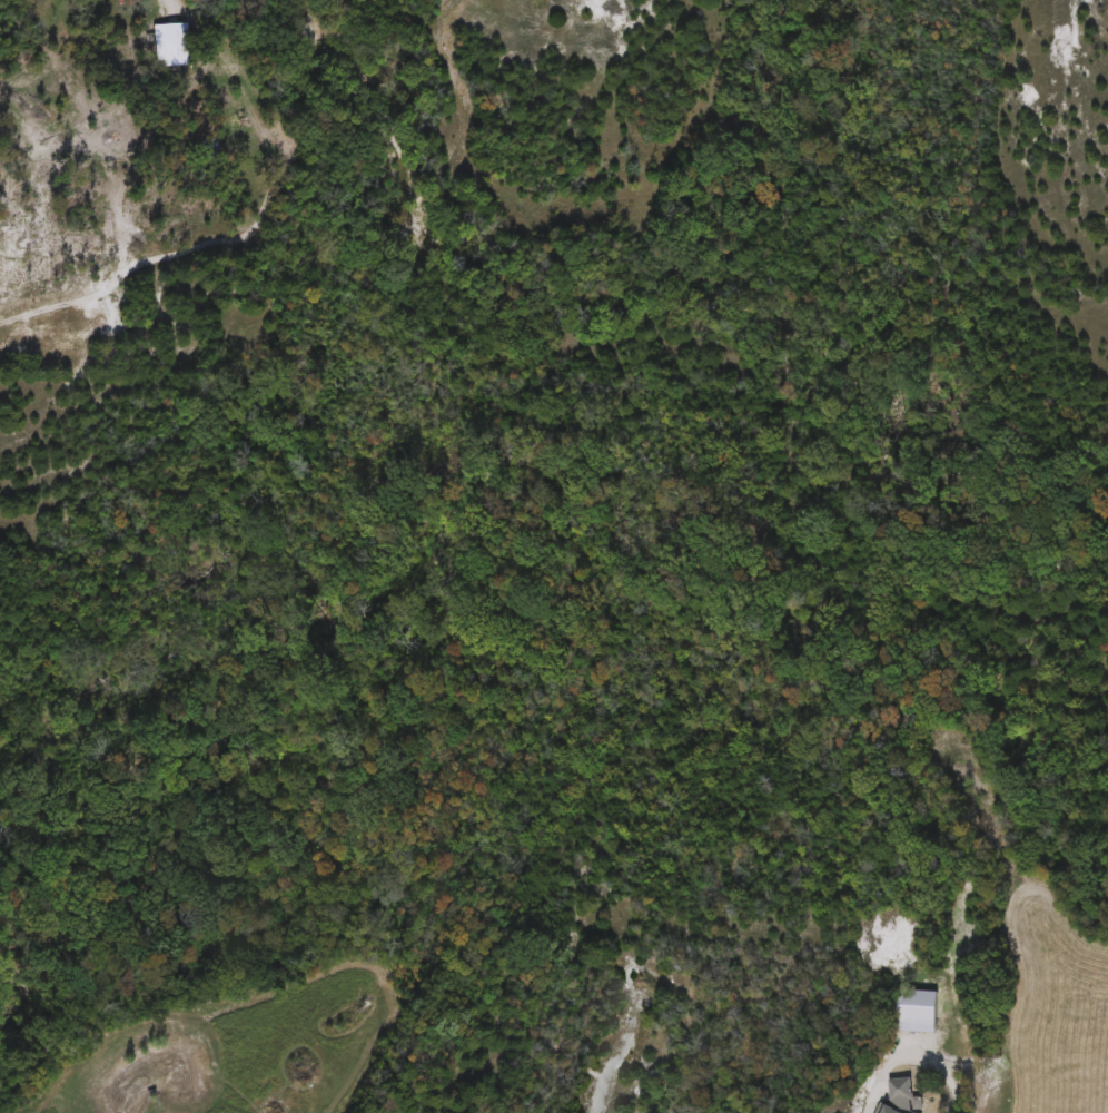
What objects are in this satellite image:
building: (167, 46)
building: (911, 1011)
road: (873, 1082)
building: (894, 1097)

